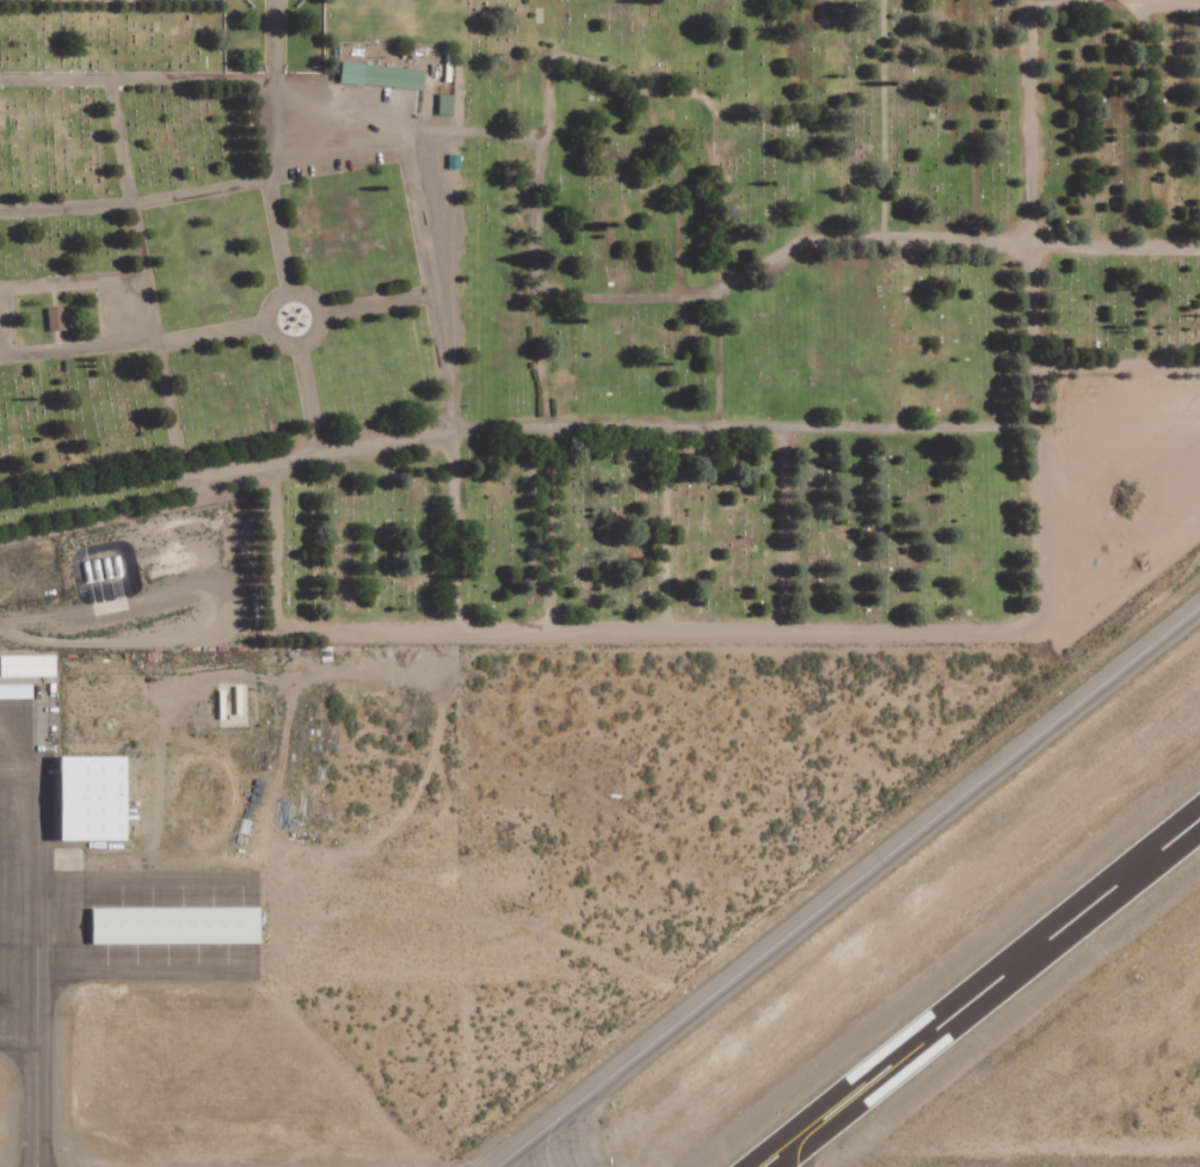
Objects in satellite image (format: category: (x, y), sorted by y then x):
road: (271, 41)
building: (383, 74)
road: (135, 81)
building: (447, 105)
road: (204, 186)
road: (269, 188)
road: (425, 210)
road: (140, 266)
road: (70, 282)
road: (288, 294)
park: (592, 297)
road: (377, 303)
building: (59, 318)
road: (133, 343)
road: (306, 398)
road: (598, 428)
road: (87, 467)
road: (962, 627)
building: (30, 665)
building: (17, 690)
building: (100, 798)
airport taxiway: (848, 885)
airport apron: (21, 908)
building: (178, 925)
airport runway: (978, 990)
airport taxiway: (29, 1110)

